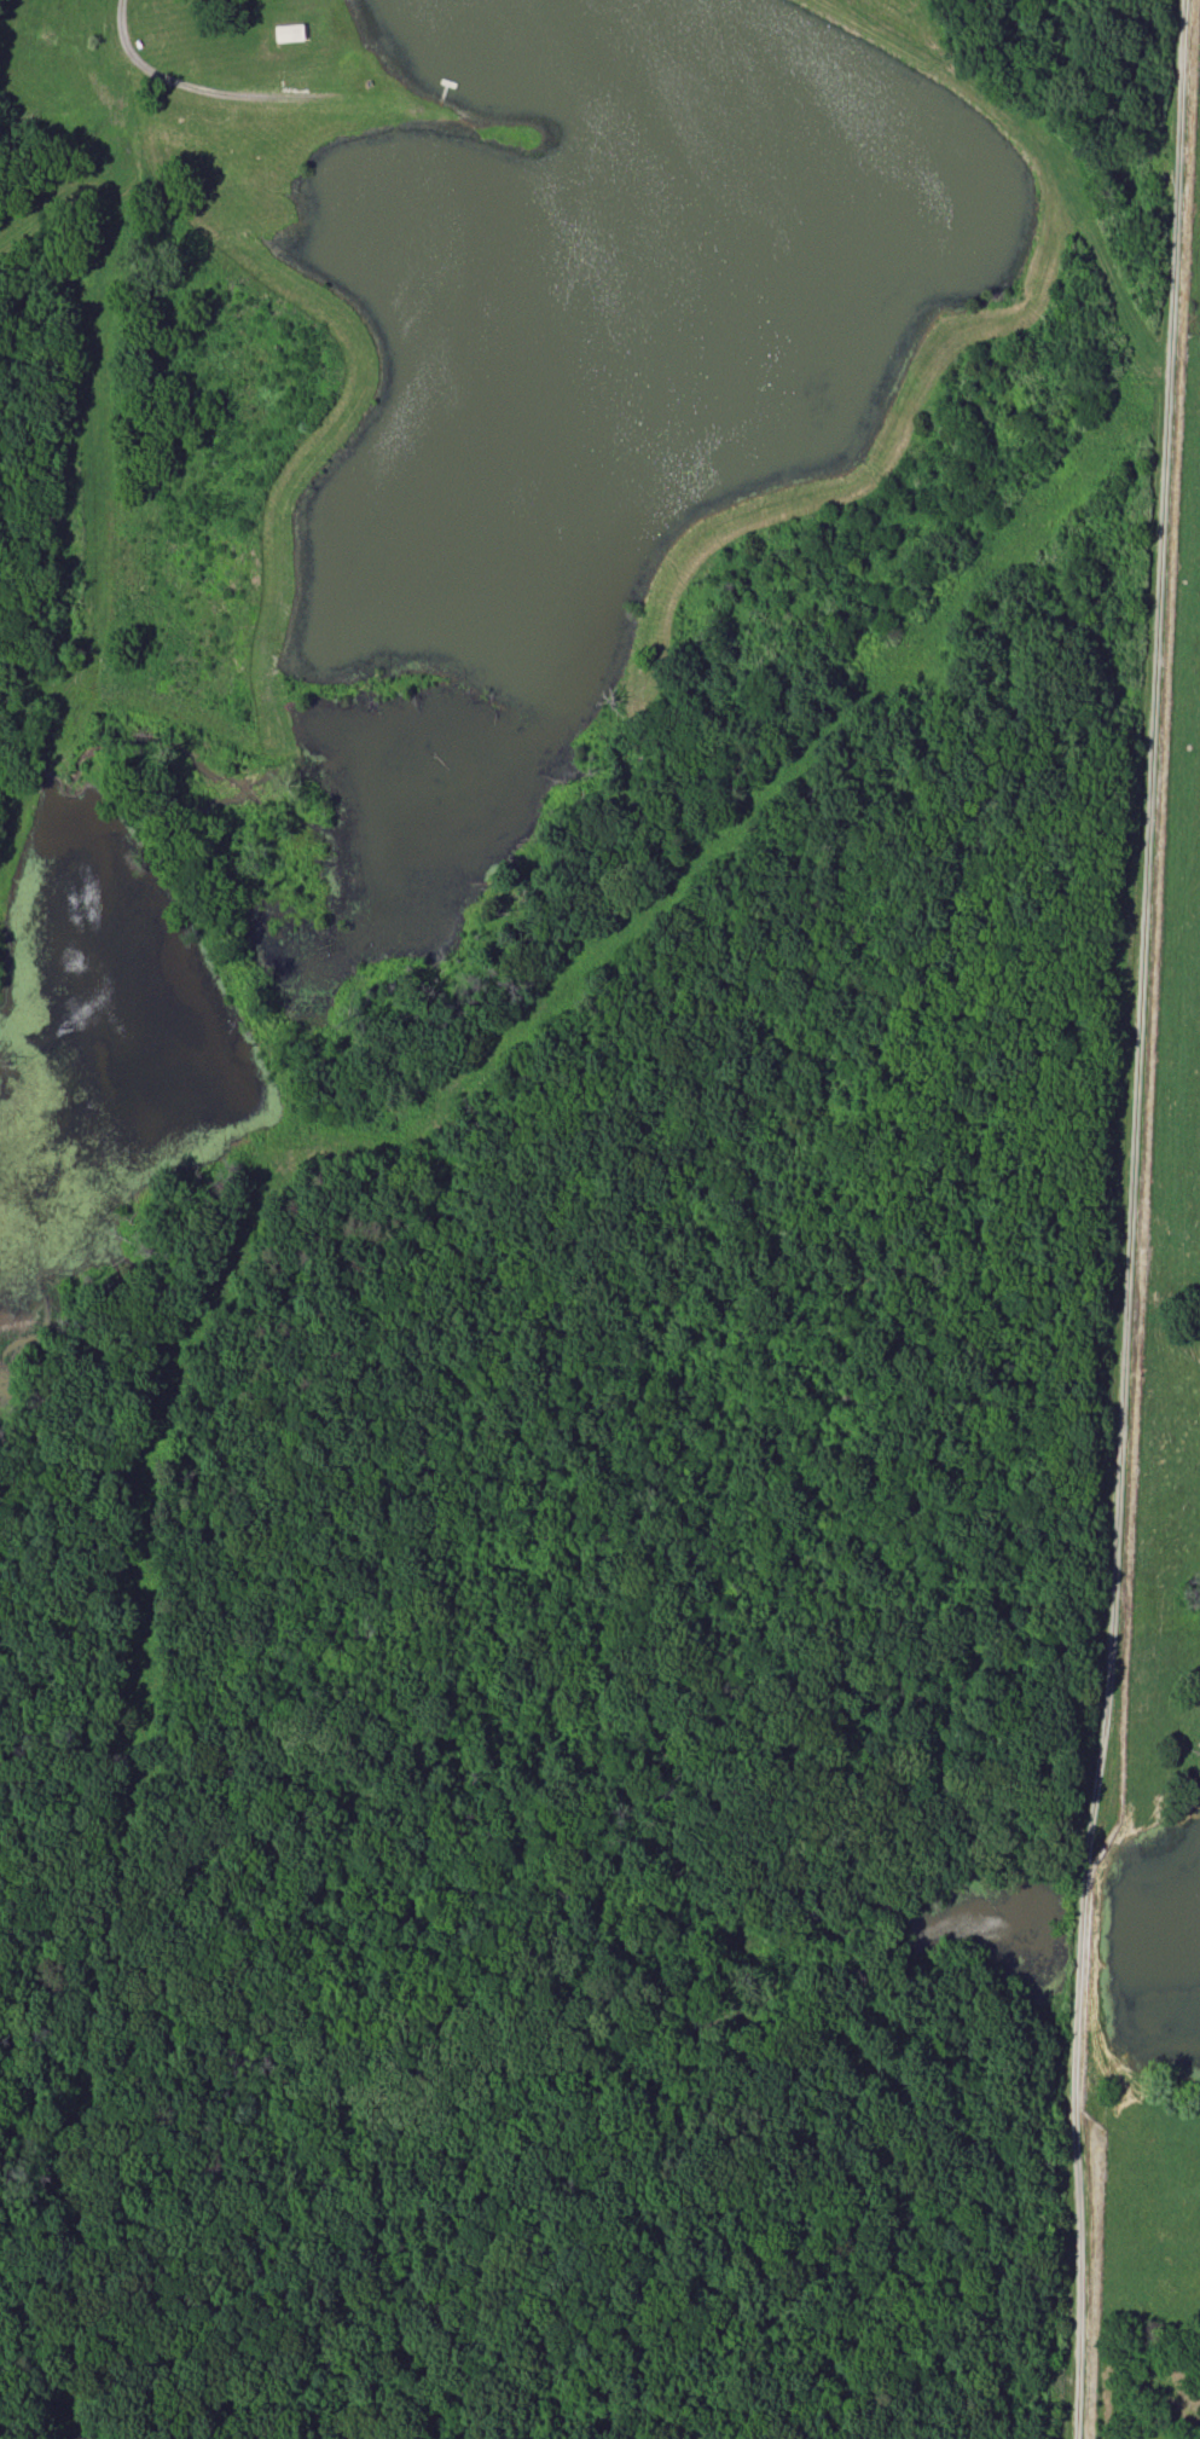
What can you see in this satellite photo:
building: (290, 33)
dam: (938, 73)
road: (182, 86)
road: (1118, 1218)

